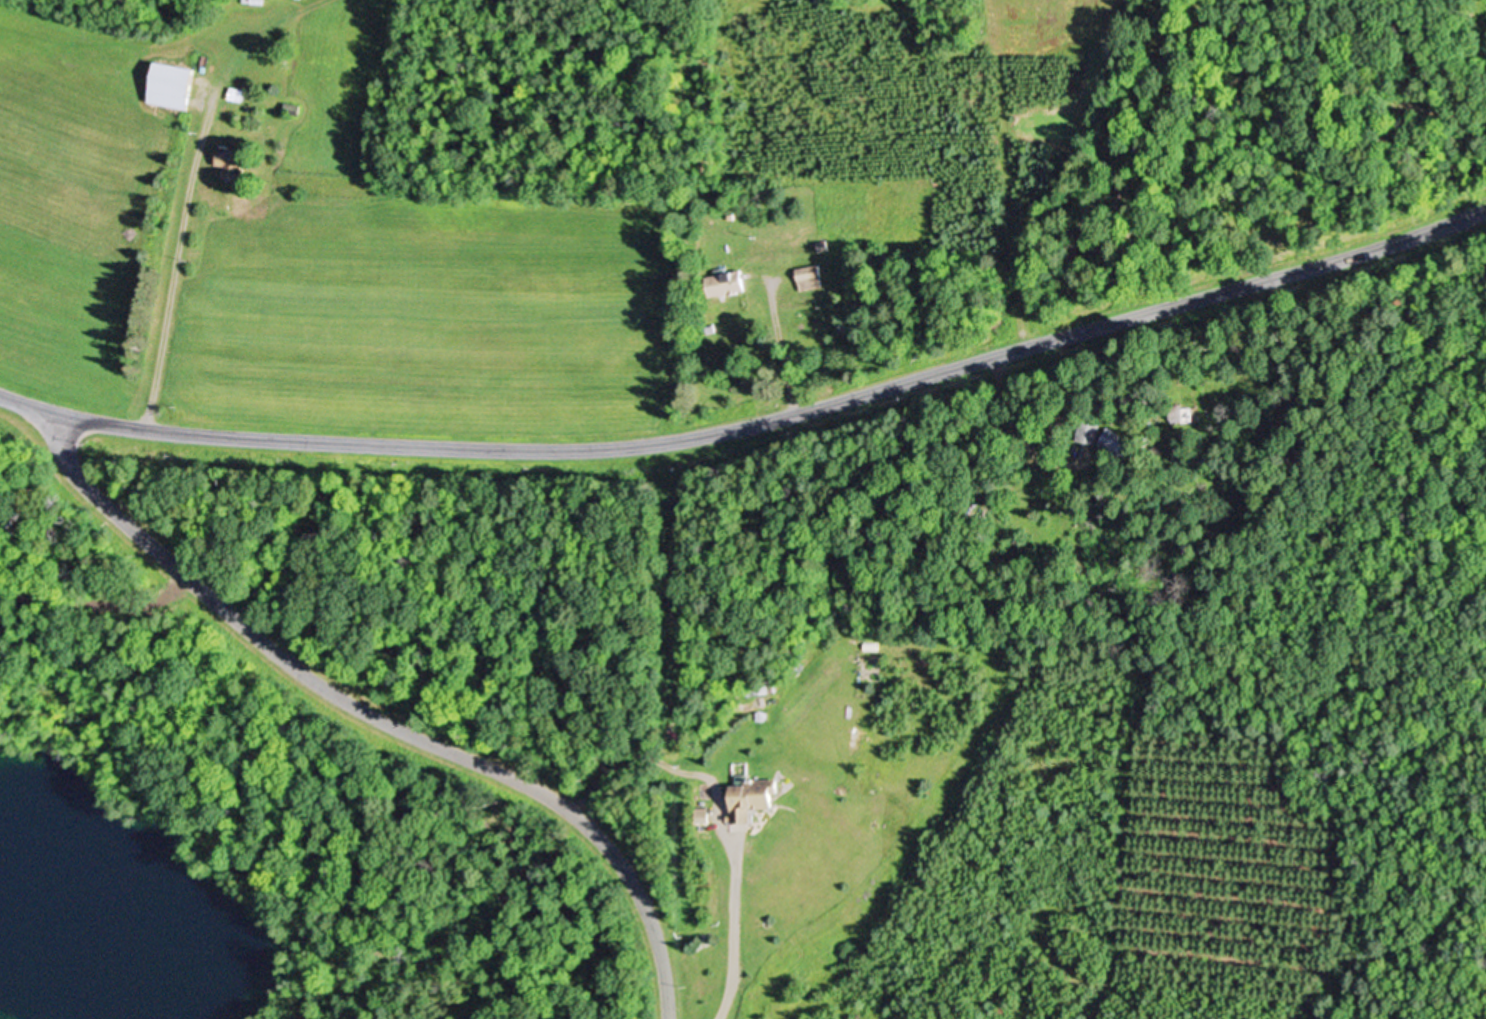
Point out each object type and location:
building: (256, 1)
building: (175, 84)
building: (234, 160)
road: (178, 264)
building: (813, 276)
building: (729, 282)
road: (782, 352)
road: (1013, 410)
building: (1186, 414)
road: (755, 422)
building: (1092, 431)
building: (1125, 443)
road: (378, 717)
building: (756, 799)
road: (734, 934)

